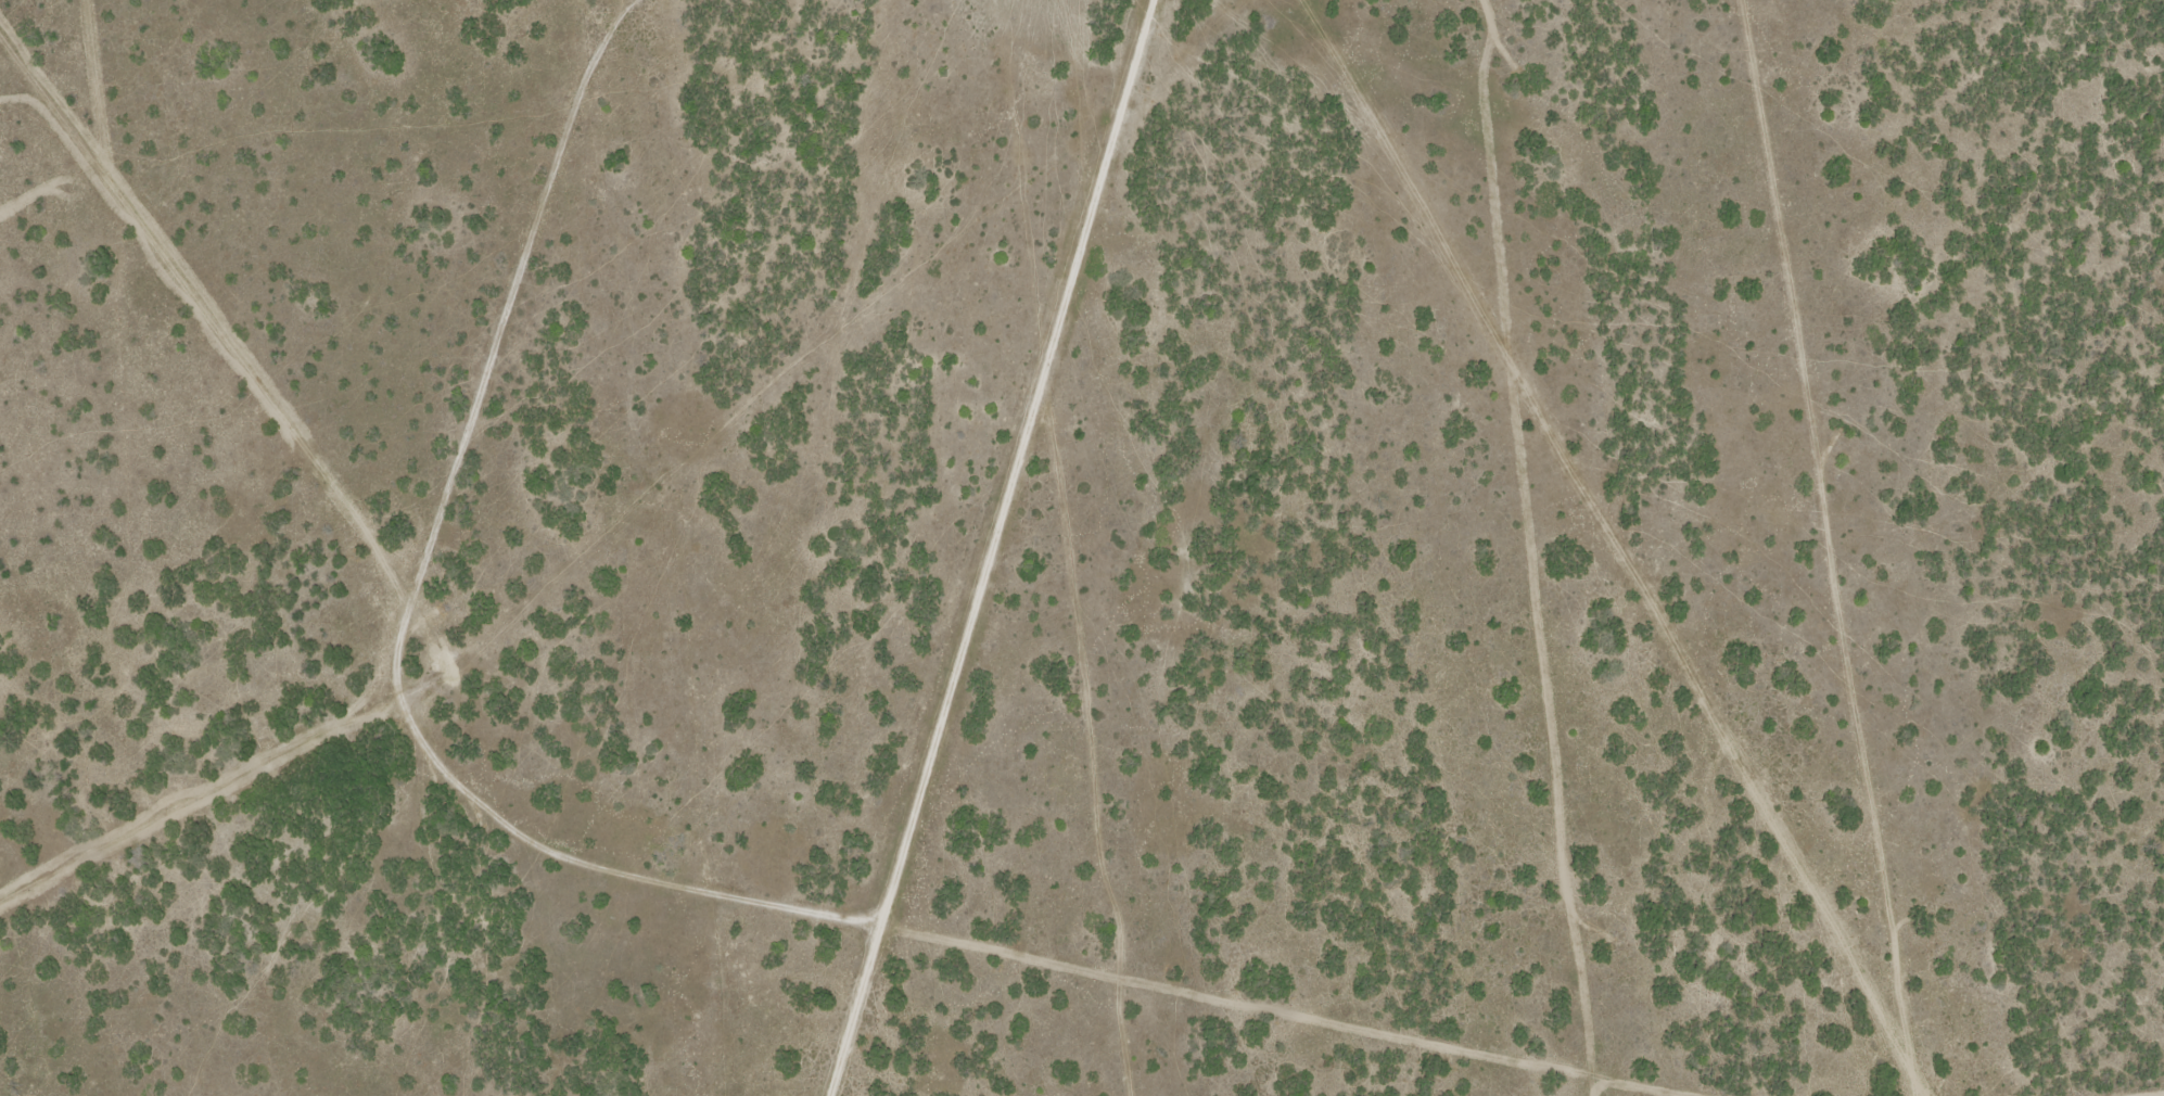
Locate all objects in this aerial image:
road: (750, 912)

